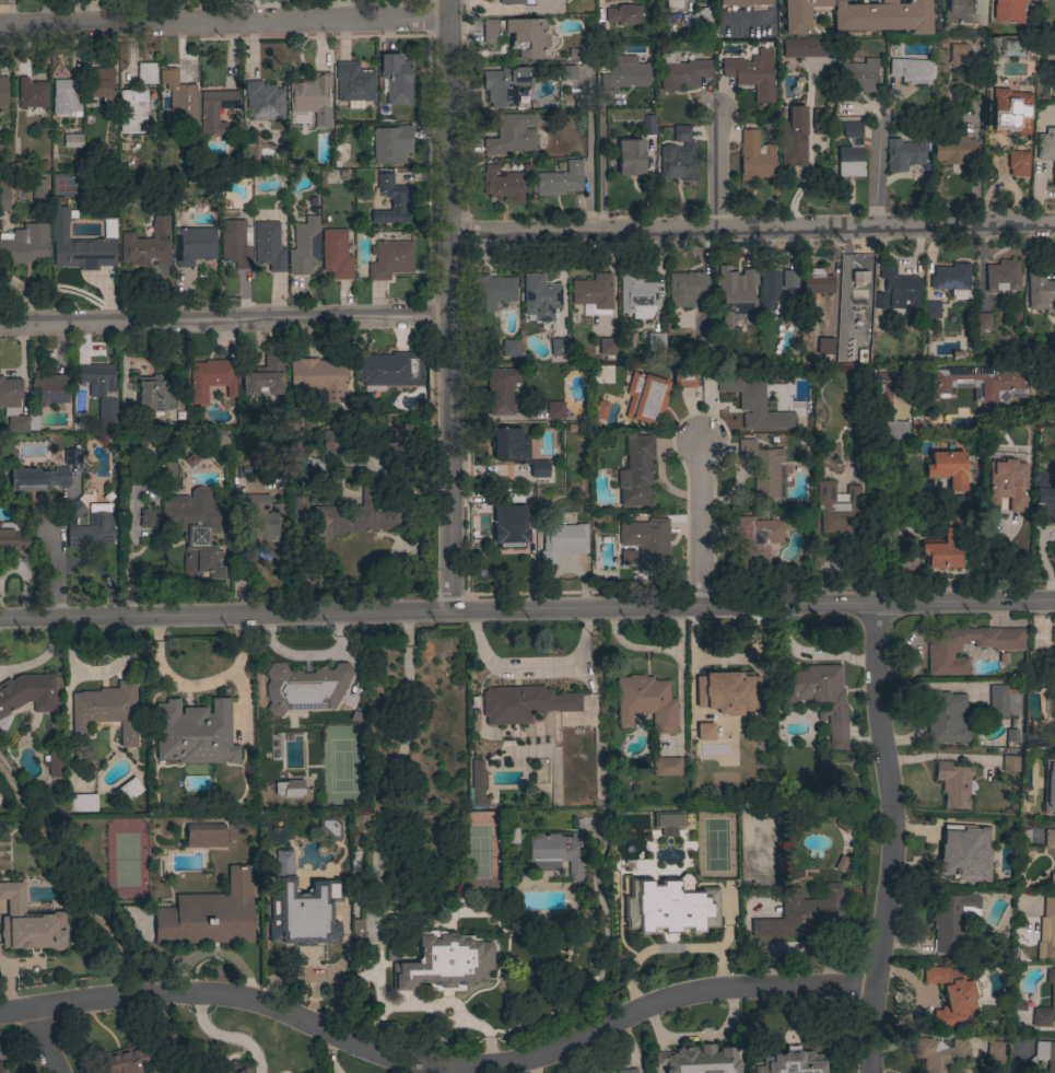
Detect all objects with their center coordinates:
building: (544, 0)
building: (882, 1)
building: (514, 2)
building: (743, 2)
building: (673, 4)
road: (772, 9)
road: (982, 10)
building: (1011, 11)
building: (960, 13)
building: (624, 14)
building: (858, 16)
building: (698, 19)
road: (224, 24)
building: (748, 24)
building: (518, 35)
building: (807, 47)
building: (577, 53)
building: (958, 55)
building: (912, 71)
building: (681, 72)
building: (146, 73)
building: (567, 73)
building: (626, 73)
building: (753, 73)
building: (168, 75)
building: (858, 77)
building: (396, 79)
building: (99, 82)
building: (354, 82)
building: (505, 84)
building: (3, 91)
building: (32, 93)
building: (308, 94)
building: (66, 97)
building: (263, 102)
building: (215, 109)
building: (184, 110)
building: (131, 112)
building: (1011, 112)
building: (819, 120)
building: (649, 126)
building: (681, 133)
building: (512, 135)
building: (793, 137)
building: (72, 141)
building: (391, 143)
building: (953, 149)
building: (1047, 149)
building: (851, 152)
building: (903, 154)
building: (630, 158)
building: (754, 158)
building: (677, 162)
building: (1018, 163)
road: (601, 170)
road: (588, 171)
road: (719, 172)
road: (877, 176)
building: (560, 180)
building: (503, 184)
building: (38, 189)
building: (3, 196)
building: (390, 200)
building: (109, 228)
road: (752, 230)
building: (25, 244)
building: (235, 244)
building: (148, 245)
building: (195, 245)
building: (78, 246)
building: (268, 246)
building: (304, 246)
building: (336, 254)
building: (389, 259)
building: (1001, 276)
building: (749, 277)
building: (859, 277)
building: (950, 277)
building: (816, 282)
building: (787, 285)
building: (770, 288)
building: (687, 289)
building: (727, 289)
building: (1040, 290)
building: (492, 292)
building: (636, 292)
building: (896, 292)
building: (593, 293)
building: (540, 298)
road: (452, 304)
building: (930, 310)
road: (225, 320)
building: (981, 320)
building: (877, 322)
building: (656, 341)
building: (704, 346)
building: (559, 347)
building: (605, 347)
building: (822, 347)
building: (509, 348)
building: (390, 369)
building: (265, 377)
building: (318, 377)
building: (683, 377)
building: (211, 378)
building: (984, 383)
building: (51, 389)
building: (101, 389)
building: (501, 390)
building: (154, 394)
building: (883, 394)
building: (645, 398)
building: (12, 404)
building: (754, 405)
building: (554, 410)
building: (598, 411)
building: (127, 416)
building: (32, 421)
building: (916, 429)
building: (895, 433)
building: (220, 439)
building: (389, 439)
building: (294, 442)
building: (338, 442)
building: (511, 445)
building: (858, 452)
building: (1021, 455)
building: (73, 457)
building: (761, 467)
building: (948, 468)
building: (166, 469)
building: (539, 469)
building: (636, 471)
building: (38, 479)
building: (1006, 486)
road: (889, 491)
building: (1043, 494)
building: (300, 506)
building: (75, 509)
building: (837, 509)
building: (355, 515)
building: (262, 518)
building: (951, 518)
road: (699, 526)
building: (509, 527)
building: (190, 528)
building: (92, 532)
building: (13, 537)
building: (757, 539)
building: (561, 541)
building: (647, 541)
building: (943, 550)
building: (625, 556)
road: (54, 562)
road: (99, 571)
road: (527, 608)
building: (1053, 634)
building: (943, 652)
road: (810, 654)
road: (40, 656)
road: (532, 666)
building: (305, 687)
building: (730, 690)
building: (27, 692)
building: (820, 697)
building: (999, 699)
building: (524, 703)
building: (646, 703)
building: (107, 710)
building: (946, 718)
building: (704, 723)
building: (194, 732)
building: (702, 733)
building: (1011, 735)
building: (1035, 739)
building: (55, 763)
building: (1009, 763)
building: (666, 766)
building: (1054, 766)
building: (478, 783)
building: (953, 783)
building: (289, 788)
building: (127, 791)
building: (81, 803)
building: (1052, 805)
building: (1025, 806)
building: (843, 823)
building: (666, 825)
building: (628, 826)
building: (1004, 828)
building: (327, 830)
building: (206, 835)
building: (512, 835)
building: (1022, 836)
road: (889, 838)
building: (1050, 839)
building: (685, 842)
building: (554, 853)
building: (956, 854)
building: (841, 863)
building: (282, 864)
building: (1052, 880)
building: (673, 913)
building: (210, 914)
building: (805, 914)
building: (301, 915)
building: (951, 920)
building: (28, 923)
building: (394, 929)
building: (356, 931)
building: (1046, 931)
building: (395, 952)
building: (444, 961)
building: (950, 995)
building: (1052, 995)
road: (432, 1003)
road: (50, 1040)
building: (995, 1051)
building: (940, 1054)
building: (1045, 1054)
building: (699, 1060)
building: (133, 1061)
road: (436, 1062)
building: (792, 1062)
building: (230, 1068)
building: (3, 1070)
building: (628, 1071)

